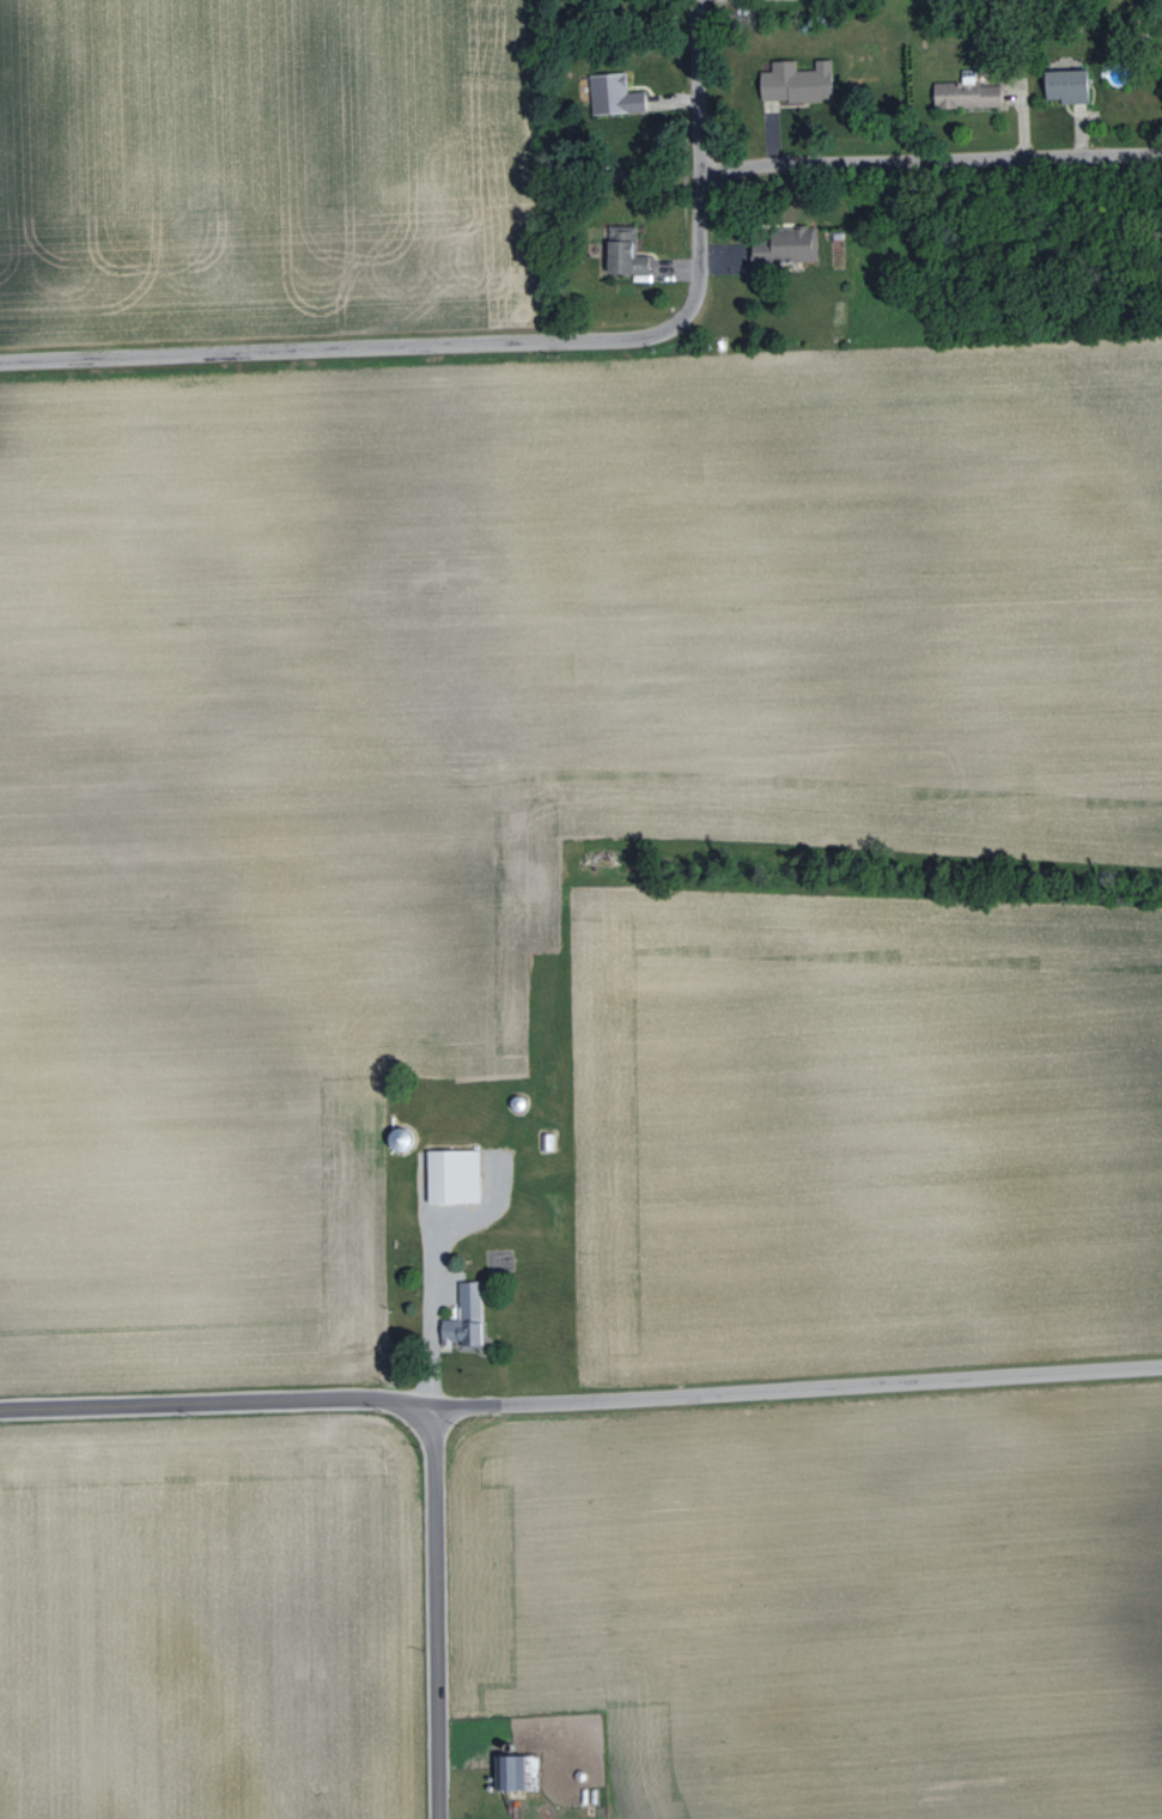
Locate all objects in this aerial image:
building: (792, 81)
road: (698, 85)
building: (1061, 85)
building: (962, 93)
building: (610, 95)
road: (931, 160)
building: (784, 244)
building: (620, 251)
road: (420, 347)
building: (449, 1175)
building: (461, 1315)
road: (427, 1344)
road: (580, 1398)
road: (433, 1613)
building: (505, 1771)

